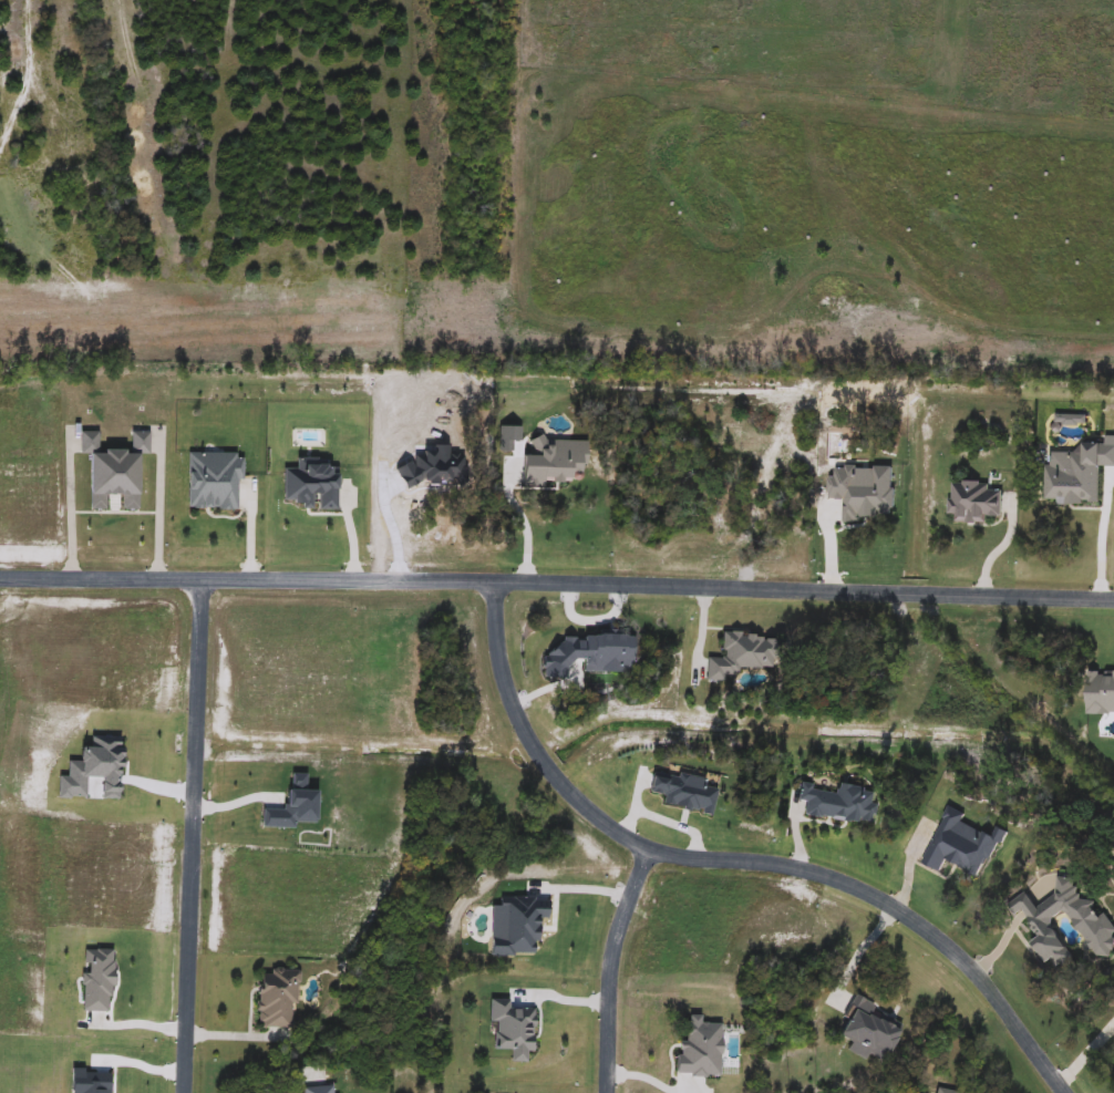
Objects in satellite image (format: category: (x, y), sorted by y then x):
road: (25, 70)
building: (106, 465)
road: (154, 514)
road: (66, 516)
road: (523, 524)
road: (1100, 539)
road: (999, 547)
road: (557, 582)
building: (735, 654)
road: (190, 837)
road: (737, 862)
road: (579, 889)
road: (610, 968)
building: (271, 1000)
road: (132, 1024)
road: (1086, 1052)
road: (296, 1086)
building: (316, 1090)
building: (941, 1091)

